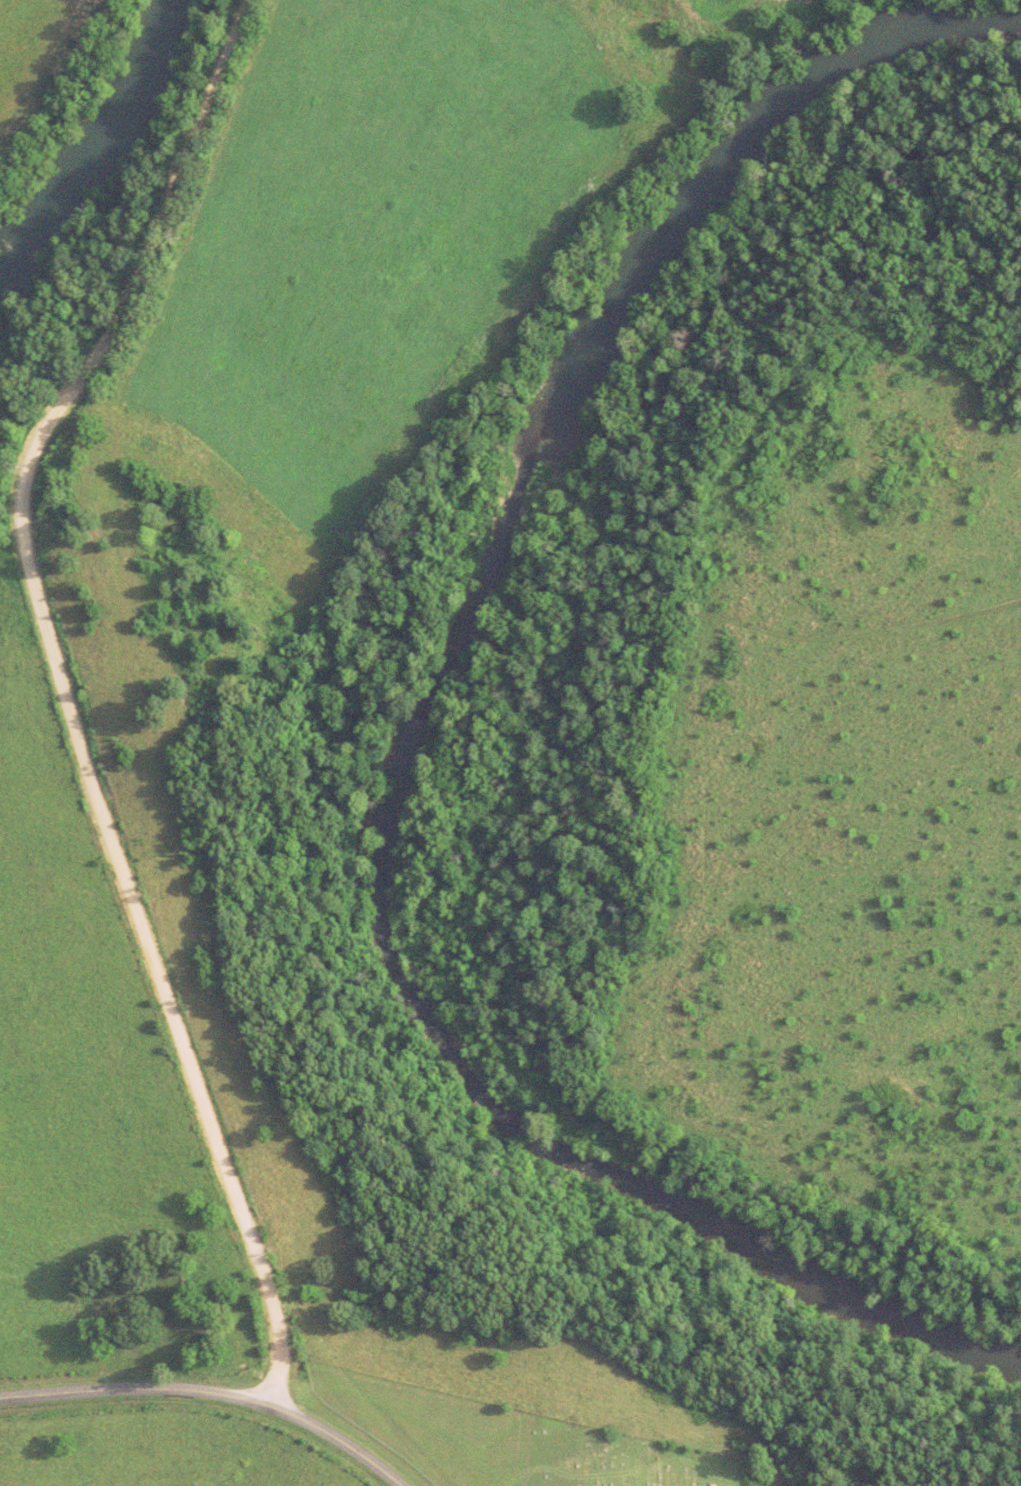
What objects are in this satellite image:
road: (64, 692)
road: (211, 1393)
park: (510, 1443)

